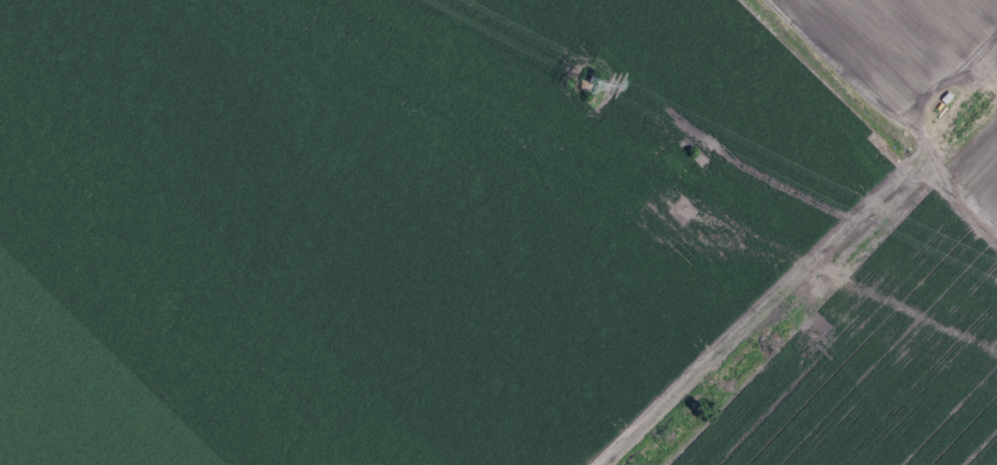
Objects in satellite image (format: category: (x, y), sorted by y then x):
road: (969, 45)
power tower: (589, 84)

